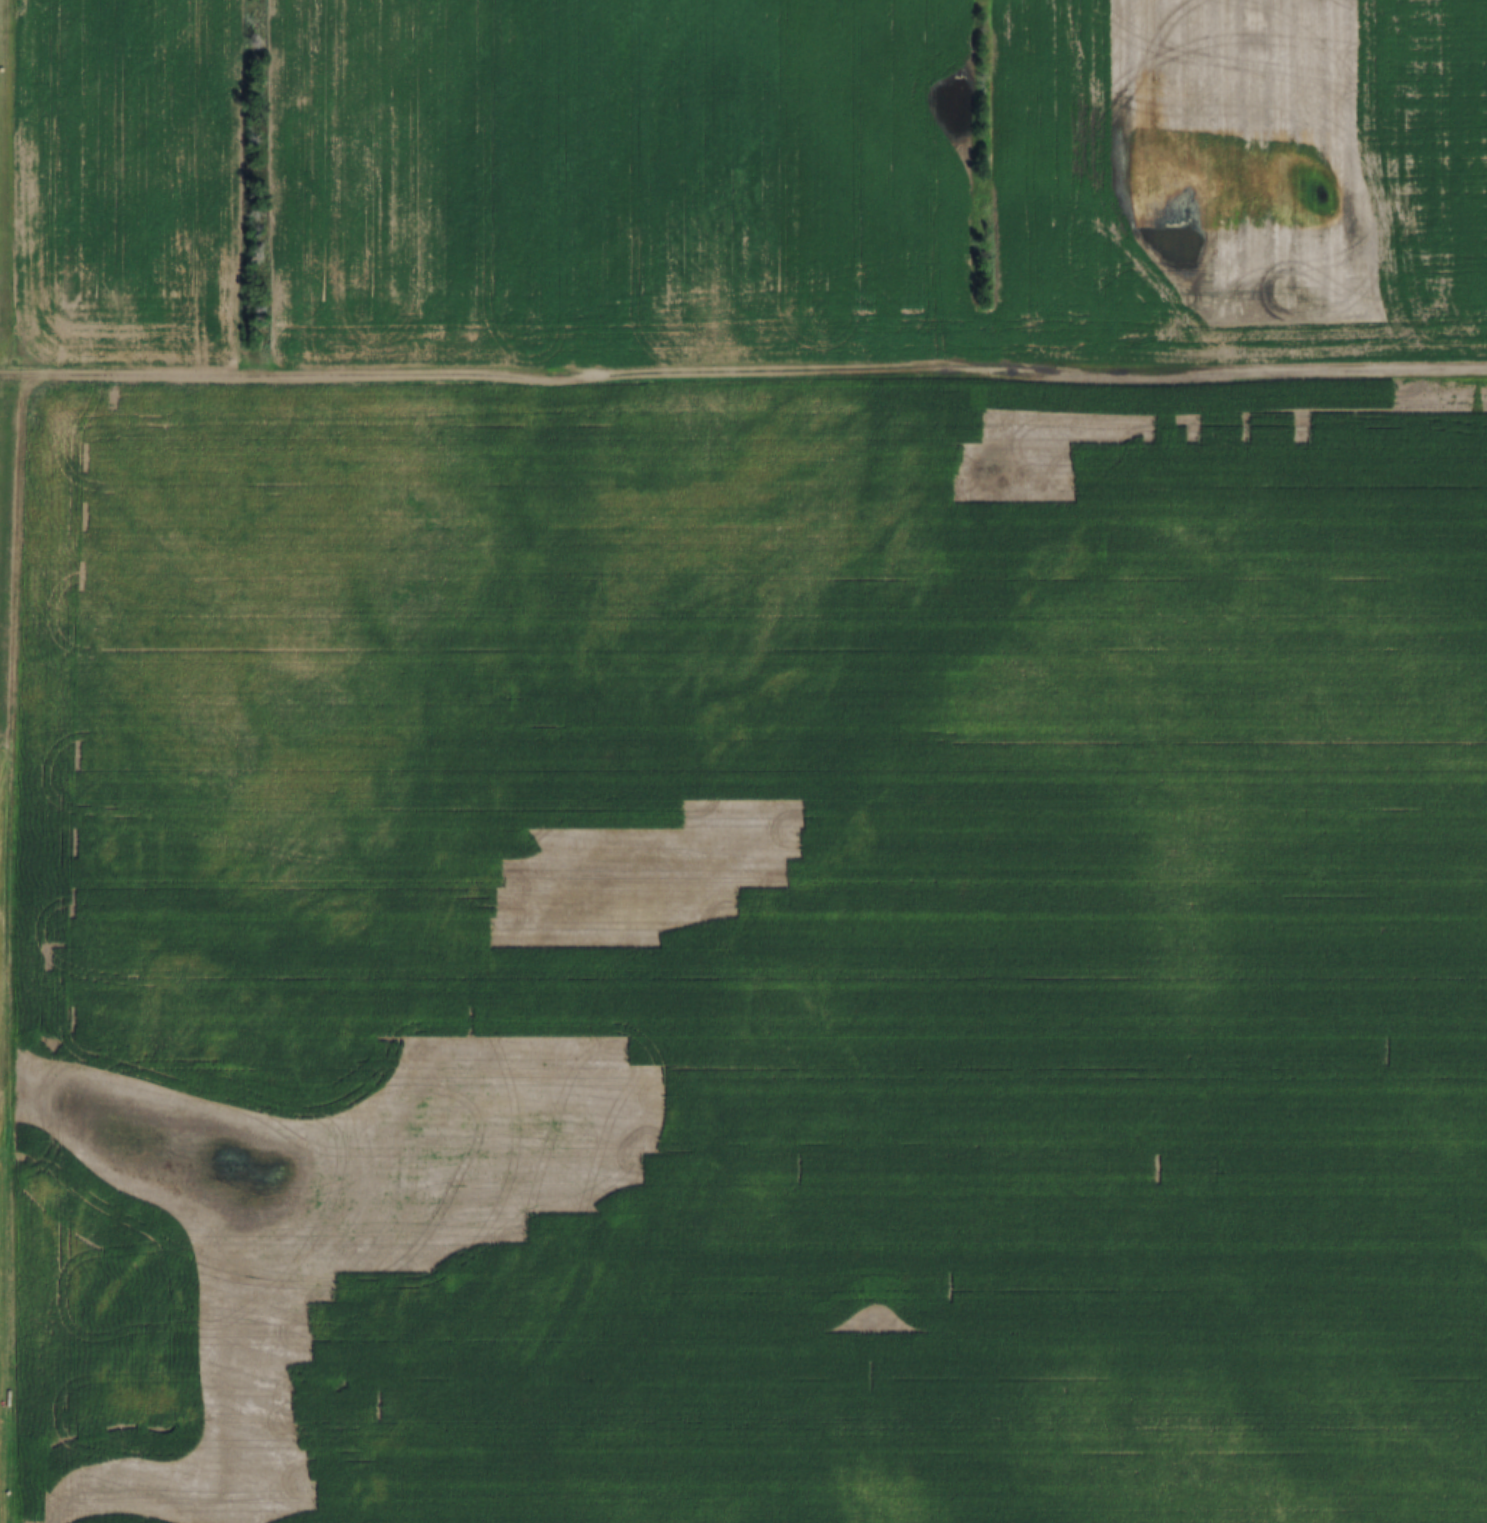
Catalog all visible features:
road: (743, 386)

